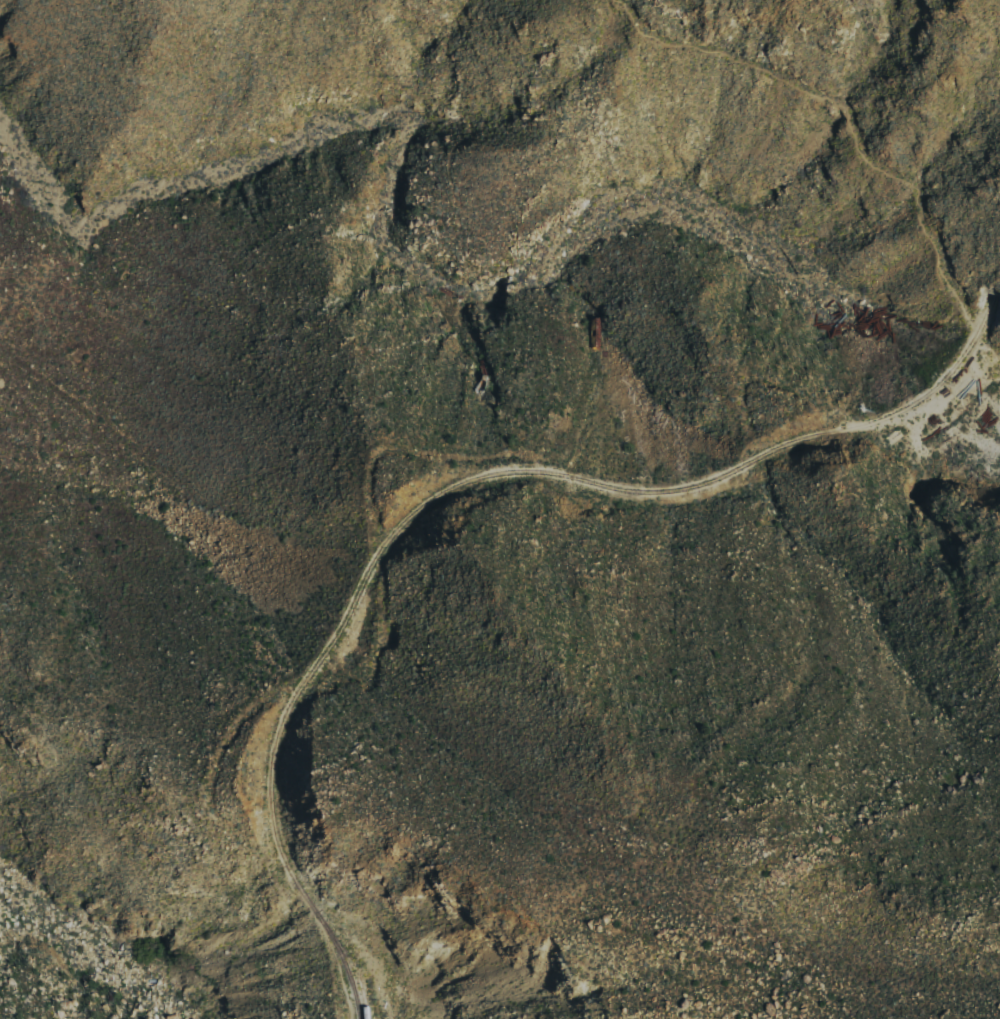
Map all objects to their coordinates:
road: (827, 108)
railway: (455, 485)
road: (439, 489)
railway: (358, 976)

